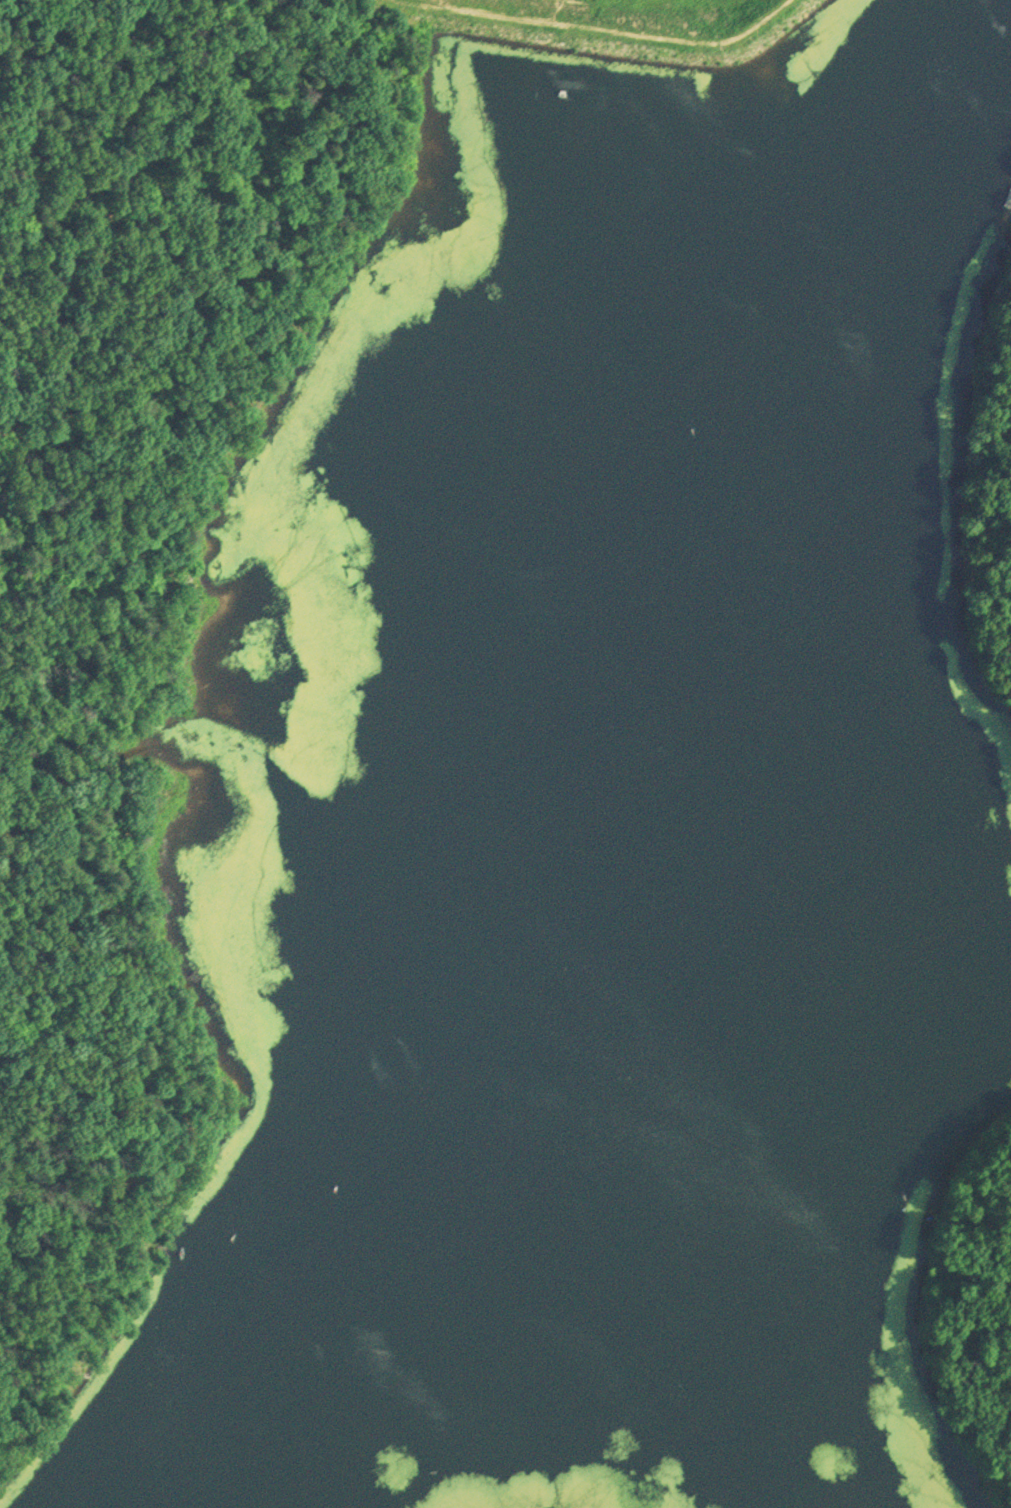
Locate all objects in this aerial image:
road: (588, 23)
dam: (643, 60)
road: (125, 115)
road: (60, 1184)

